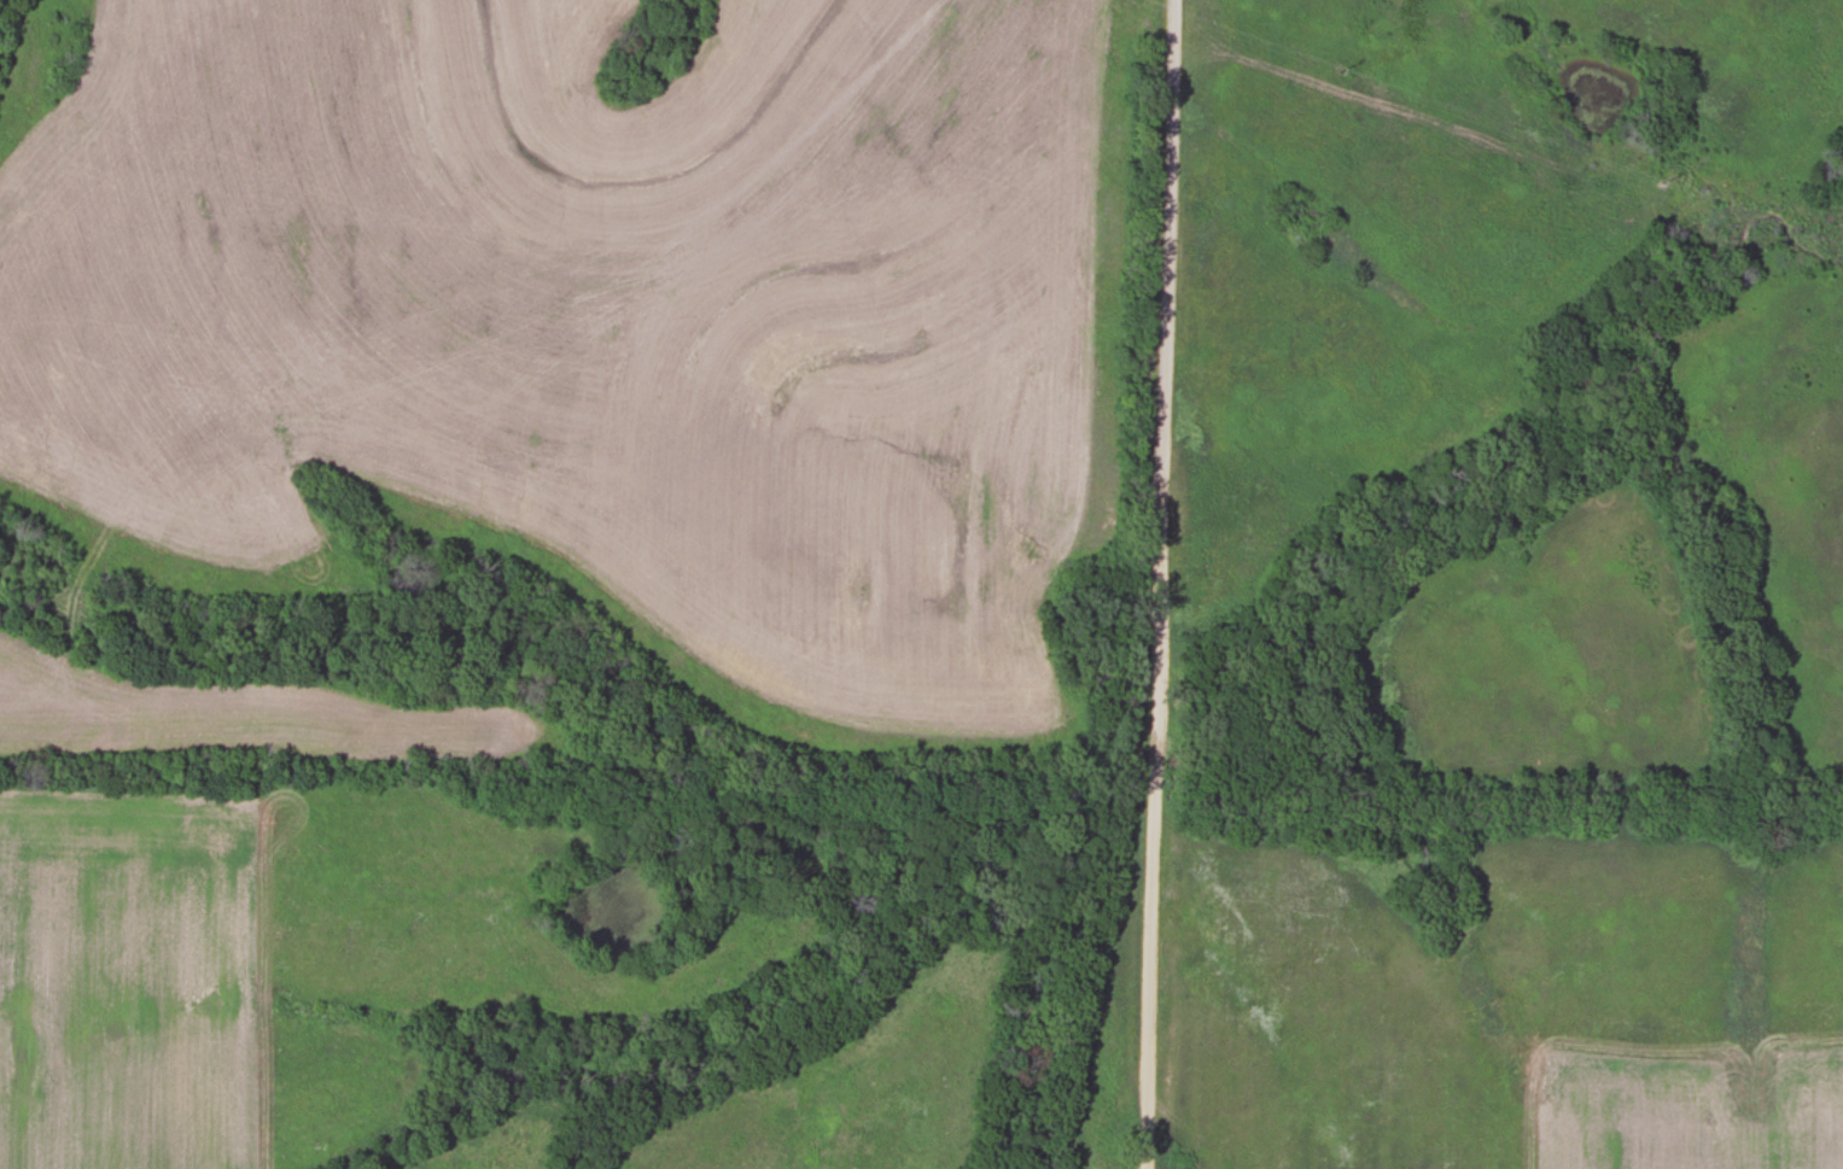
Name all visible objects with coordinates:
road: (1159, 584)
crop: (127, 975)
crop: (1672, 1121)

